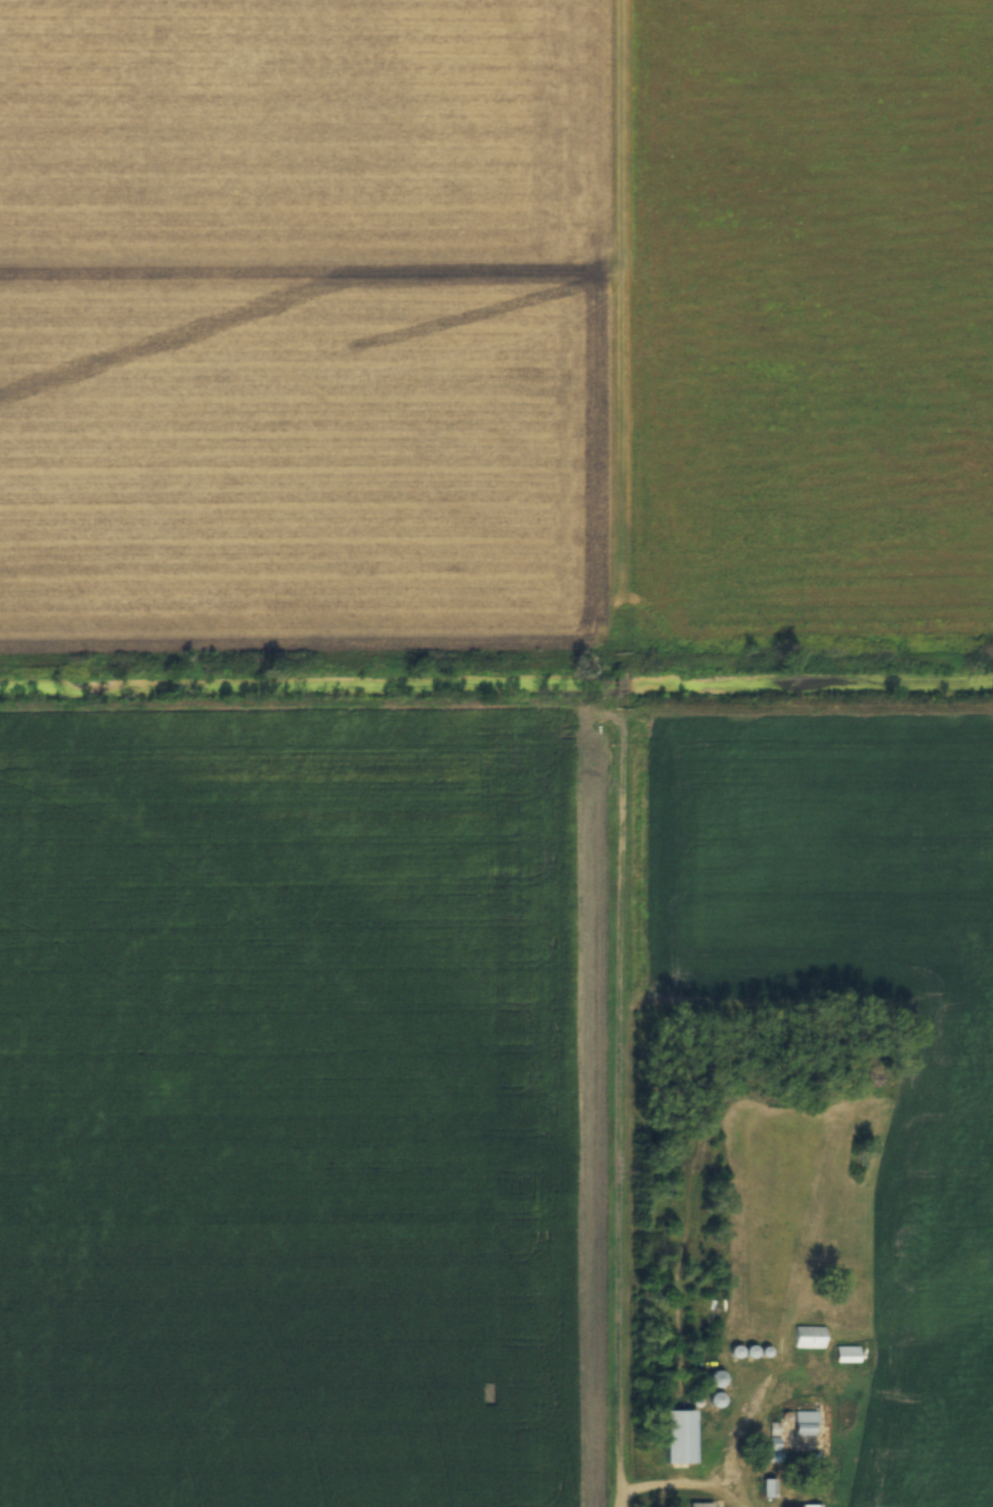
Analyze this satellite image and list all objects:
road: (627, 753)
building: (808, 1334)
building: (806, 1420)
building: (682, 1437)
building: (772, 1446)
road: (676, 1481)
building: (702, 1503)
building: (812, 1503)

